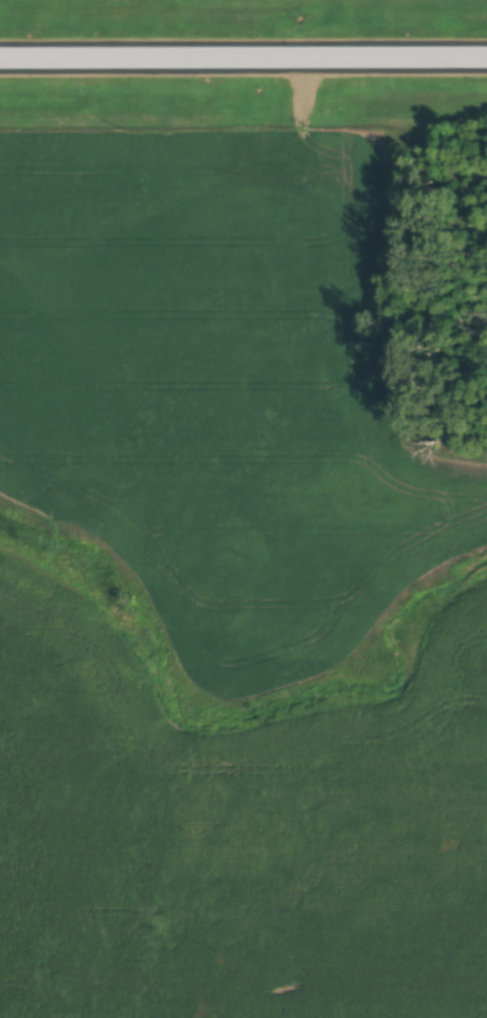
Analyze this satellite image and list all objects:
road: (243, 54)

